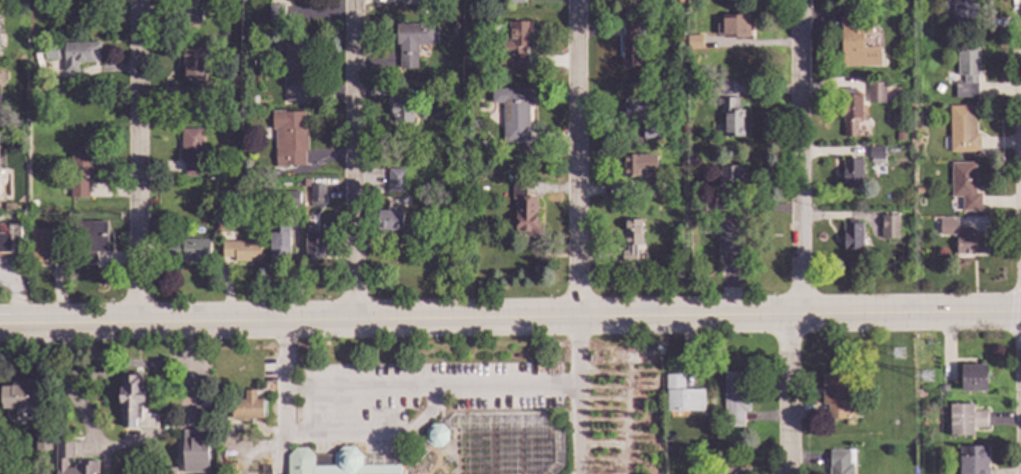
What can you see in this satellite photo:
building: (299, 0)
building: (408, 2)
building: (516, 2)
building: (23, 3)
building: (37, 3)
building: (469, 10)
building: (191, 13)
building: (275, 13)
building: (963, 13)
building: (732, 26)
building: (675, 36)
building: (412, 42)
building: (695, 42)
building: (631, 43)
building: (856, 43)
building: (514, 47)
building: (50, 53)
building: (78, 54)
building: (294, 71)
building: (193, 73)
building: (966, 73)
building: (2, 78)
building: (469, 79)
building: (875, 93)
building: (401, 106)
building: (636, 107)
building: (513, 112)
building: (850, 113)
building: (731, 117)
building: (962, 130)
building: (650, 131)
building: (899, 137)
building: (289, 138)
building: (469, 147)
building: (191, 151)
building: (876, 155)
road: (573, 156)
road: (354, 158)
road: (140, 160)
building: (637, 164)
building: (79, 170)
building: (851, 172)
building: (730, 177)
building: (394, 180)
building: (964, 186)
building: (653, 189)
building: (919, 191)
building: (313, 194)
building: (288, 199)
building: (44, 205)
building: (696, 206)
building: (9, 207)
building: (524, 212)
building: (389, 221)
building: (889, 227)
building: (218, 228)
building: (730, 234)
building: (851, 236)
road: (797, 237)
building: (958, 237)
building: (90, 239)
building: (9, 240)
building: (630, 240)
building: (278, 241)
building: (314, 243)
building: (45, 247)
building: (190, 250)
building: (241, 251)
road: (16, 291)
road: (510, 314)
power tower: (899, 354)
road: (130, 364)
power tower: (928, 378)
building: (973, 378)
building: (942, 389)
road: (432, 392)
building: (682, 395)
building: (836, 397)
building: (16, 399)
building: (734, 399)
building: (199, 404)
building: (134, 405)
building: (247, 407)
building: (202, 415)
building: (965, 420)
building: (557, 422)
road: (578, 432)
building: (436, 436)
road: (352, 437)
building: (42, 438)
road: (126, 445)
building: (64, 450)
building: (195, 452)
road: (281, 455)
building: (840, 461)
building: (972, 461)
building: (332, 463)
building: (167, 471)
building: (735, 471)

